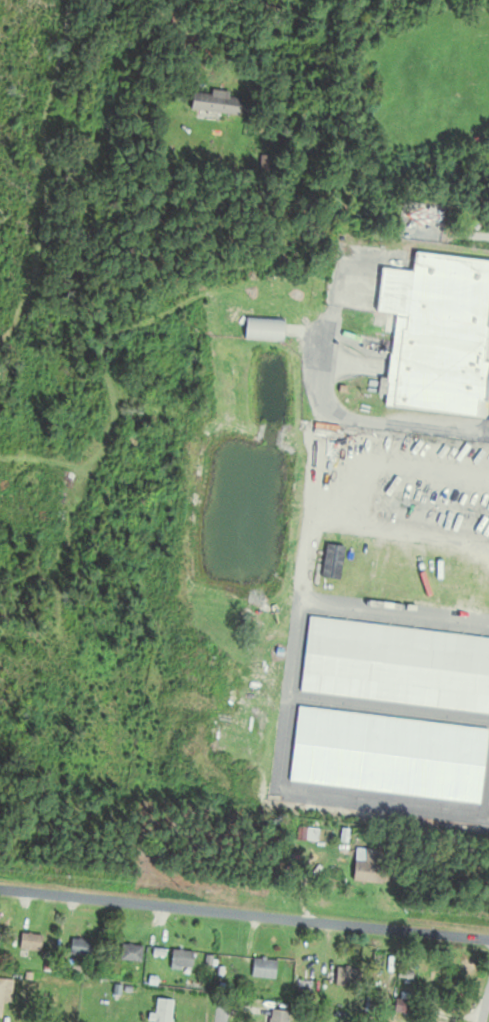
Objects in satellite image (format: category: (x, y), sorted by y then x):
building: (213, 103)
building: (429, 215)
building: (260, 329)
building: (436, 331)
road: (307, 474)
road: (301, 549)
road: (288, 648)
building: (309, 836)
building: (364, 867)
road: (244, 912)
building: (27, 943)
building: (78, 949)
building: (129, 954)
building: (179, 960)
building: (261, 969)
building: (344, 978)
building: (5, 991)
road: (221, 1007)
building: (159, 1012)
road: (220, 1017)
building: (274, 1017)

